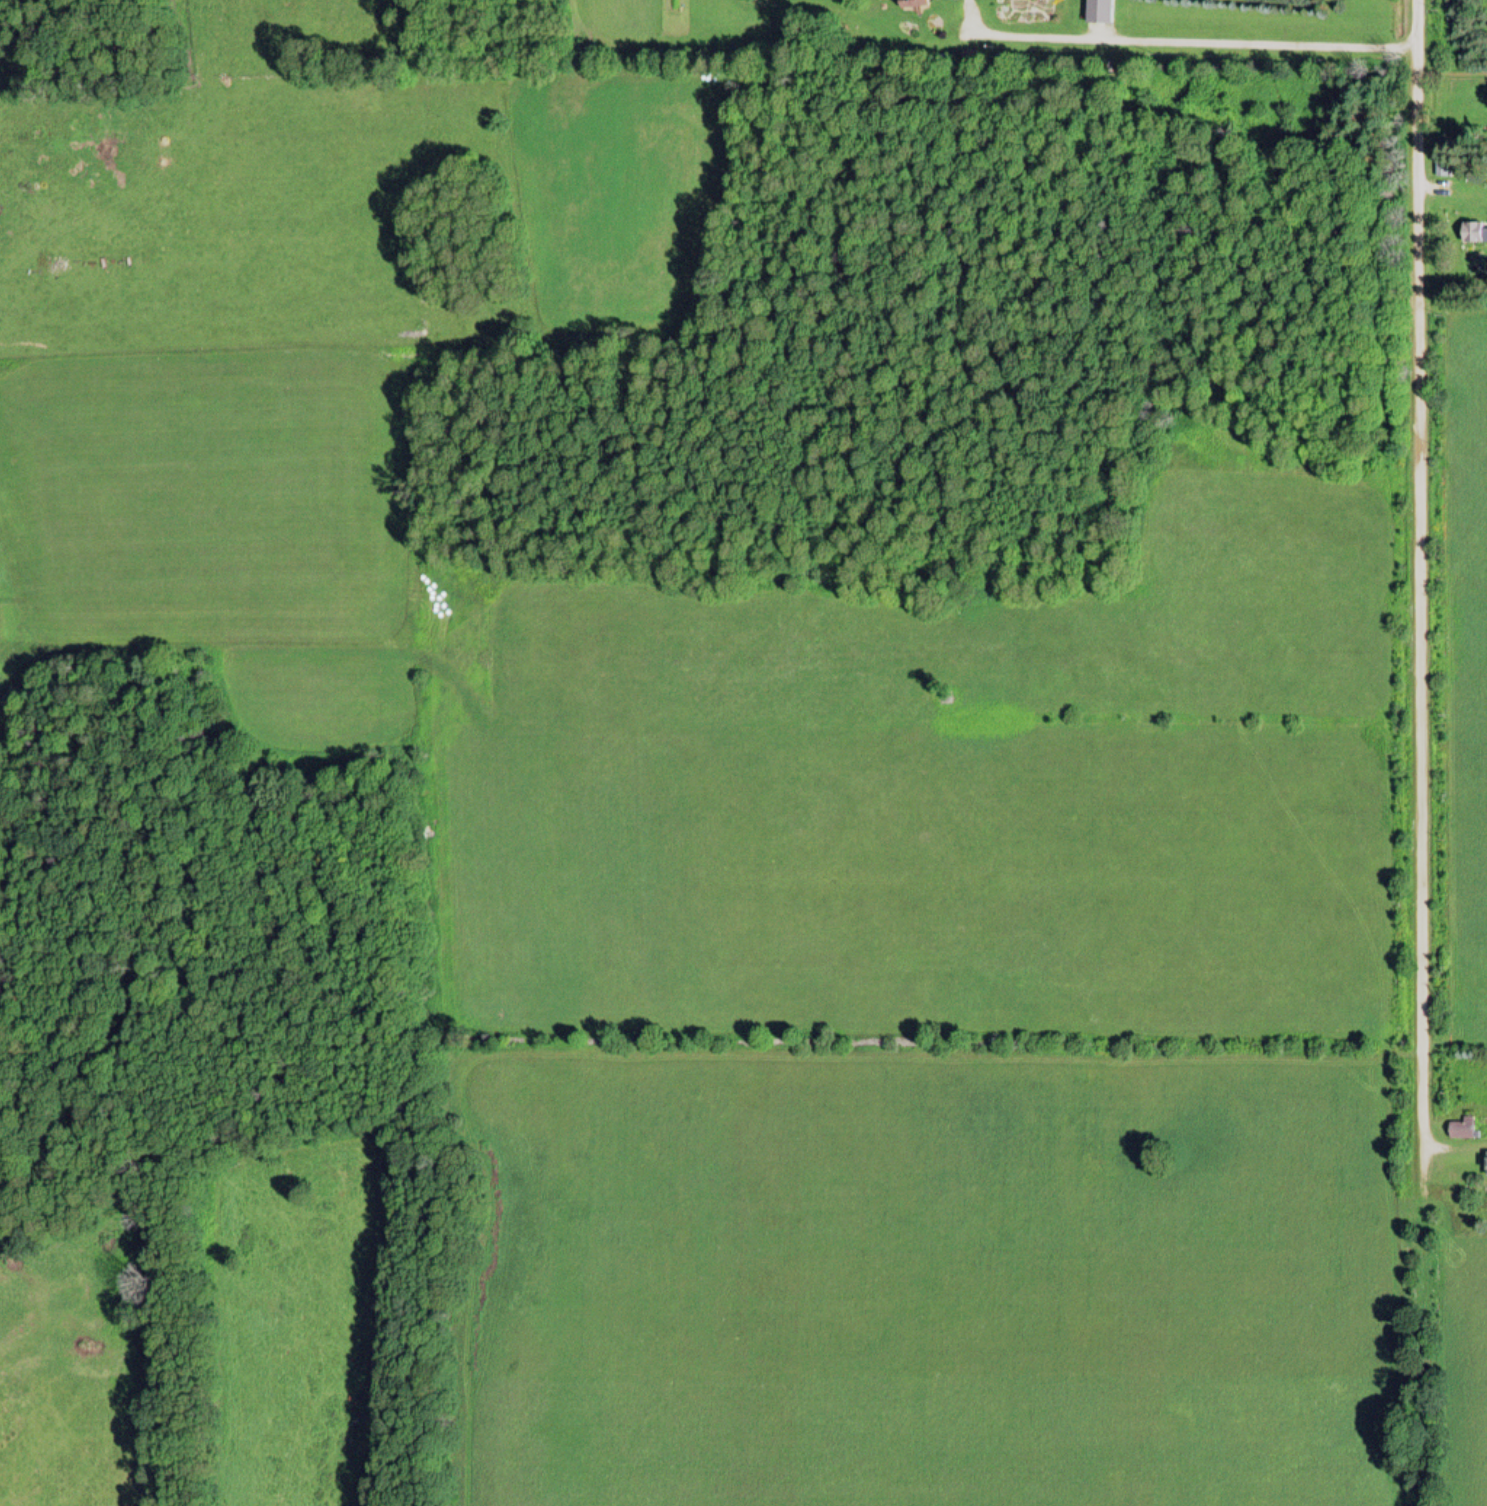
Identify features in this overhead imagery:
building: (1106, 7)
building: (1477, 234)
road: (1425, 597)
building: (1458, 1132)
building: (1485, 1167)

